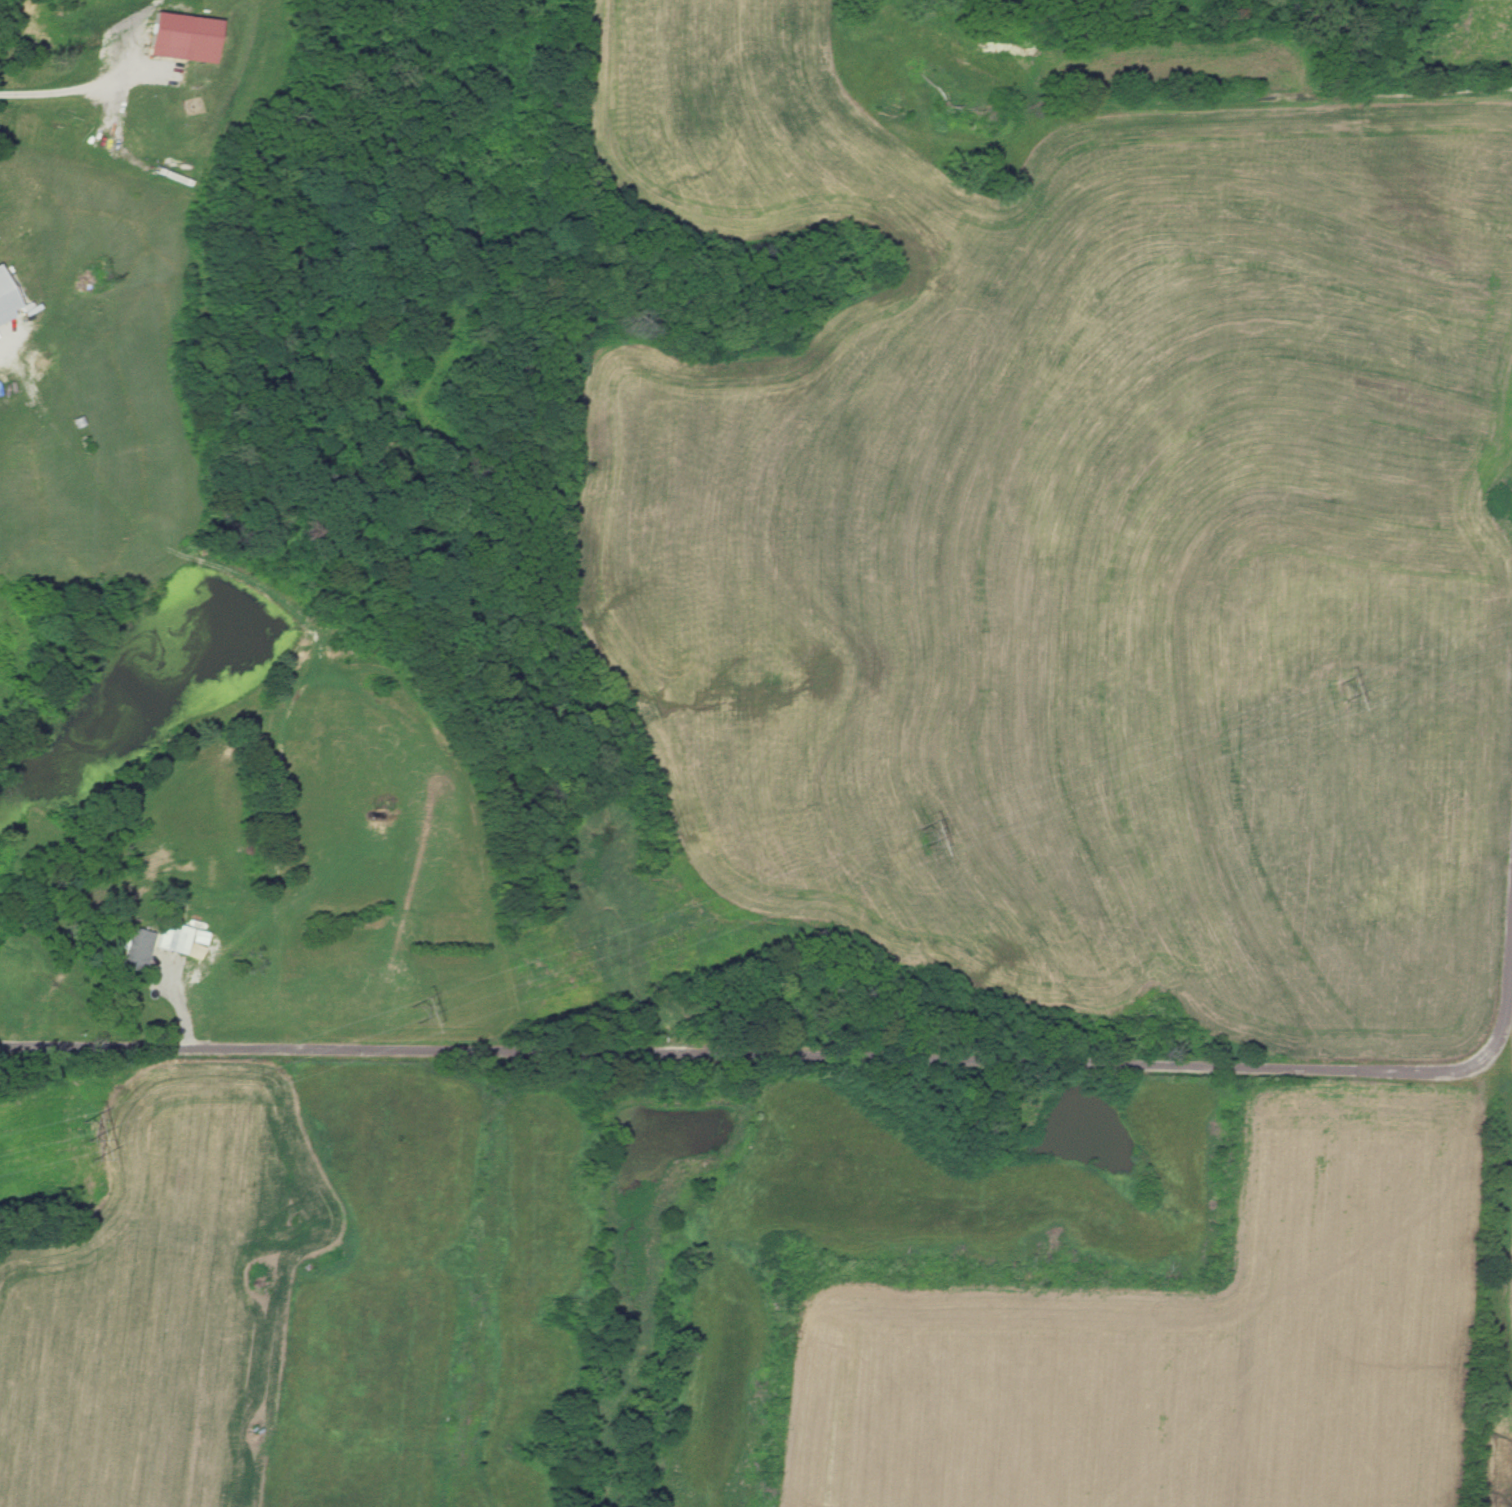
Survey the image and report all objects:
building: (181, 37)
crop: (1464, 41)
road: (66, 89)
road: (1203, 108)
crop: (752, 135)
building: (5, 300)
crop: (1099, 584)
power tower: (1338, 687)
power tower: (919, 837)
building: (173, 938)
building: (134, 948)
power tower: (400, 1005)
road: (810, 1053)
power tower: (54, 1111)
crop: (1498, 1242)
crop: (139, 1301)
crop: (1185, 1341)
crop: (1489, 1446)

